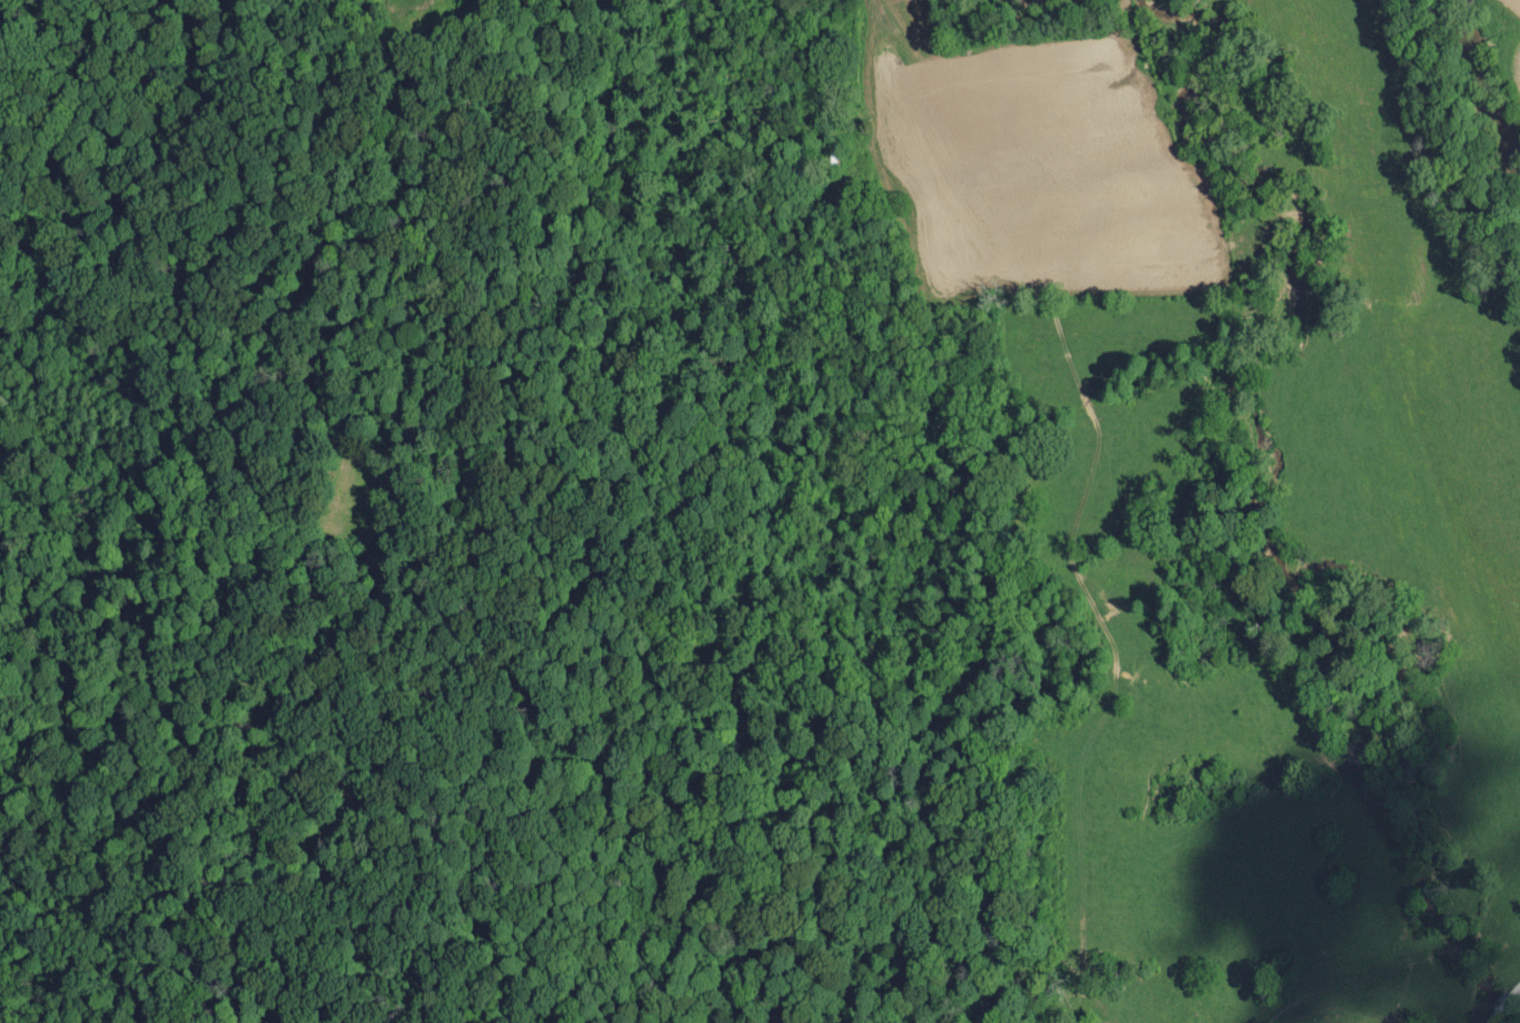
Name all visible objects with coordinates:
river: (1475, 87)
road: (1505, 1004)

